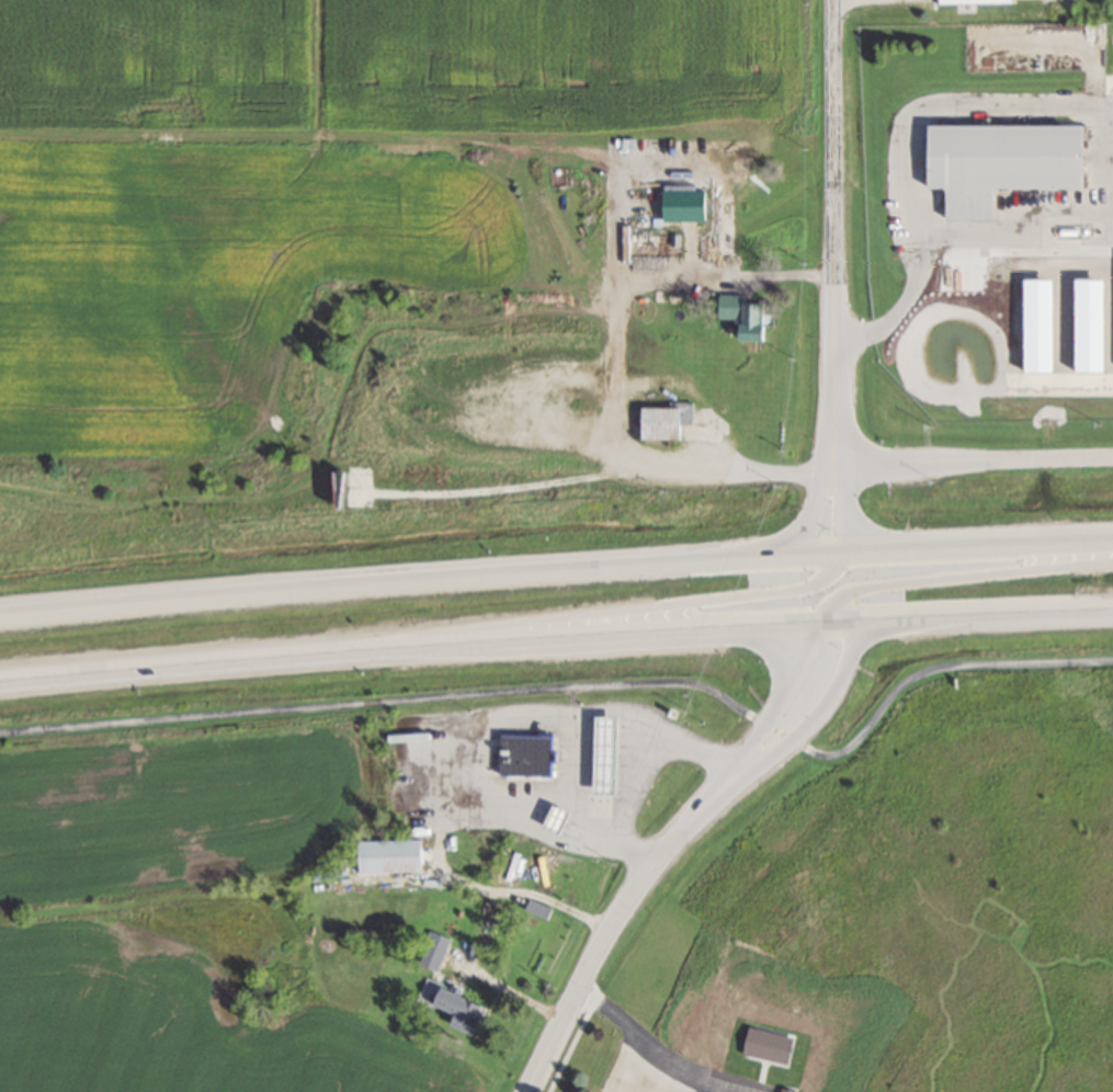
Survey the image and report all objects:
building: (981, 1)
building: (1009, 162)
road: (941, 229)
road: (833, 231)
building: (748, 316)
road: (615, 366)
building: (669, 421)
road: (974, 460)
road: (810, 507)
road: (845, 507)
road: (954, 549)
road: (962, 577)
road: (397, 587)
road: (587, 607)
road: (968, 615)
road: (411, 646)
road: (583, 683)
road: (782, 693)
road: (818, 706)
building: (612, 740)
building: (529, 753)
road: (643, 767)
building: (561, 817)
road: (438, 842)
building: (394, 854)
crop: (197, 917)
road: (616, 917)
building: (467, 1010)
road: (648, 1045)
road: (659, 1078)
building: (792, 1089)

